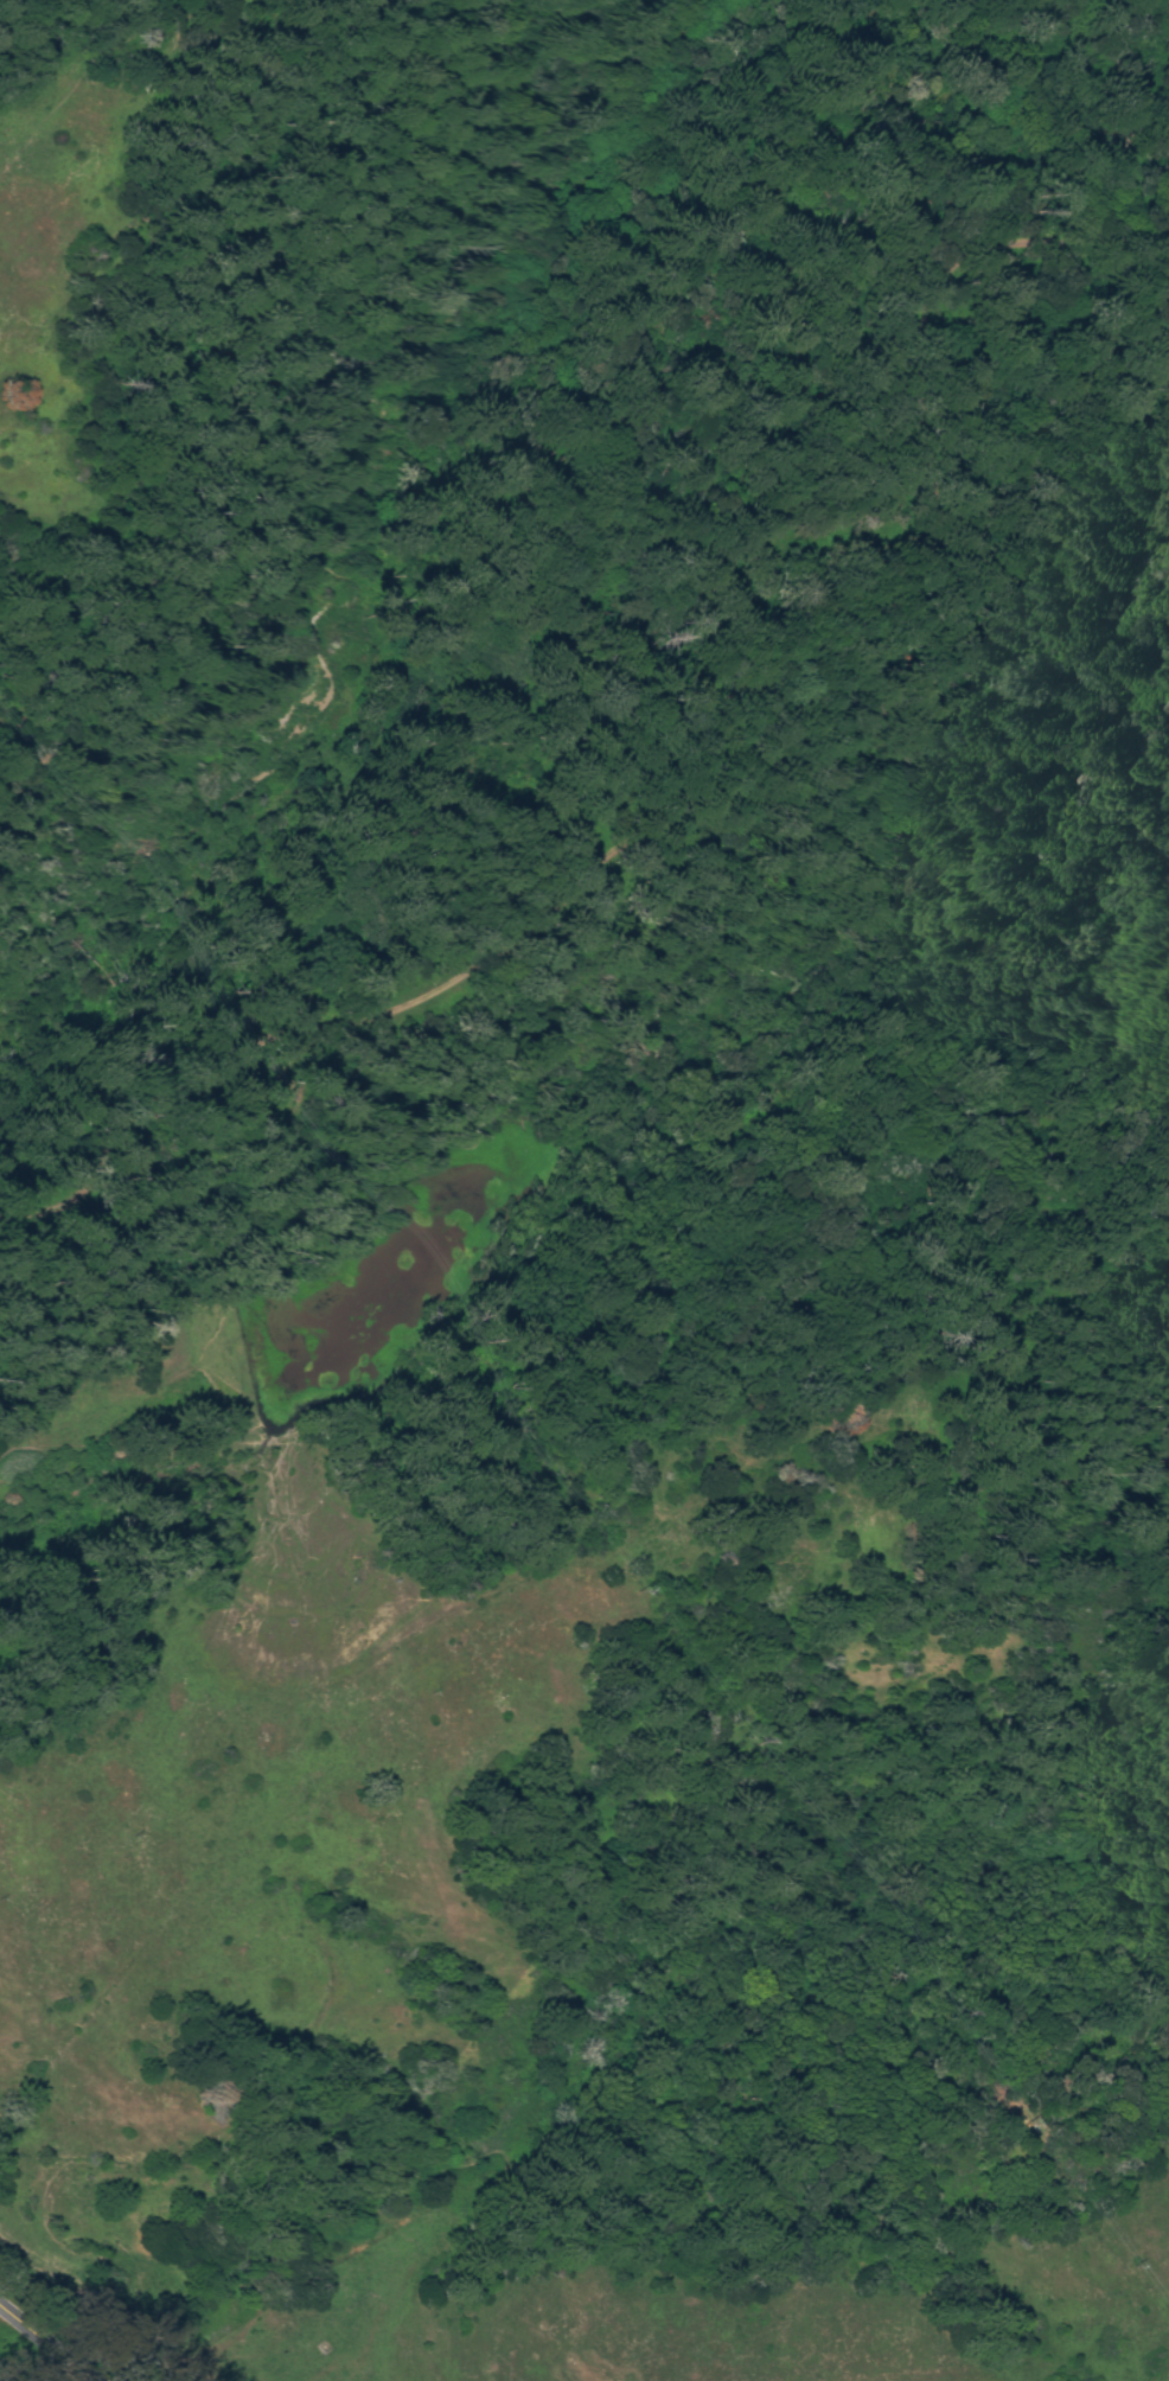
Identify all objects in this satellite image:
road: (74, 84)
road: (703, 780)
road: (45, 2343)

